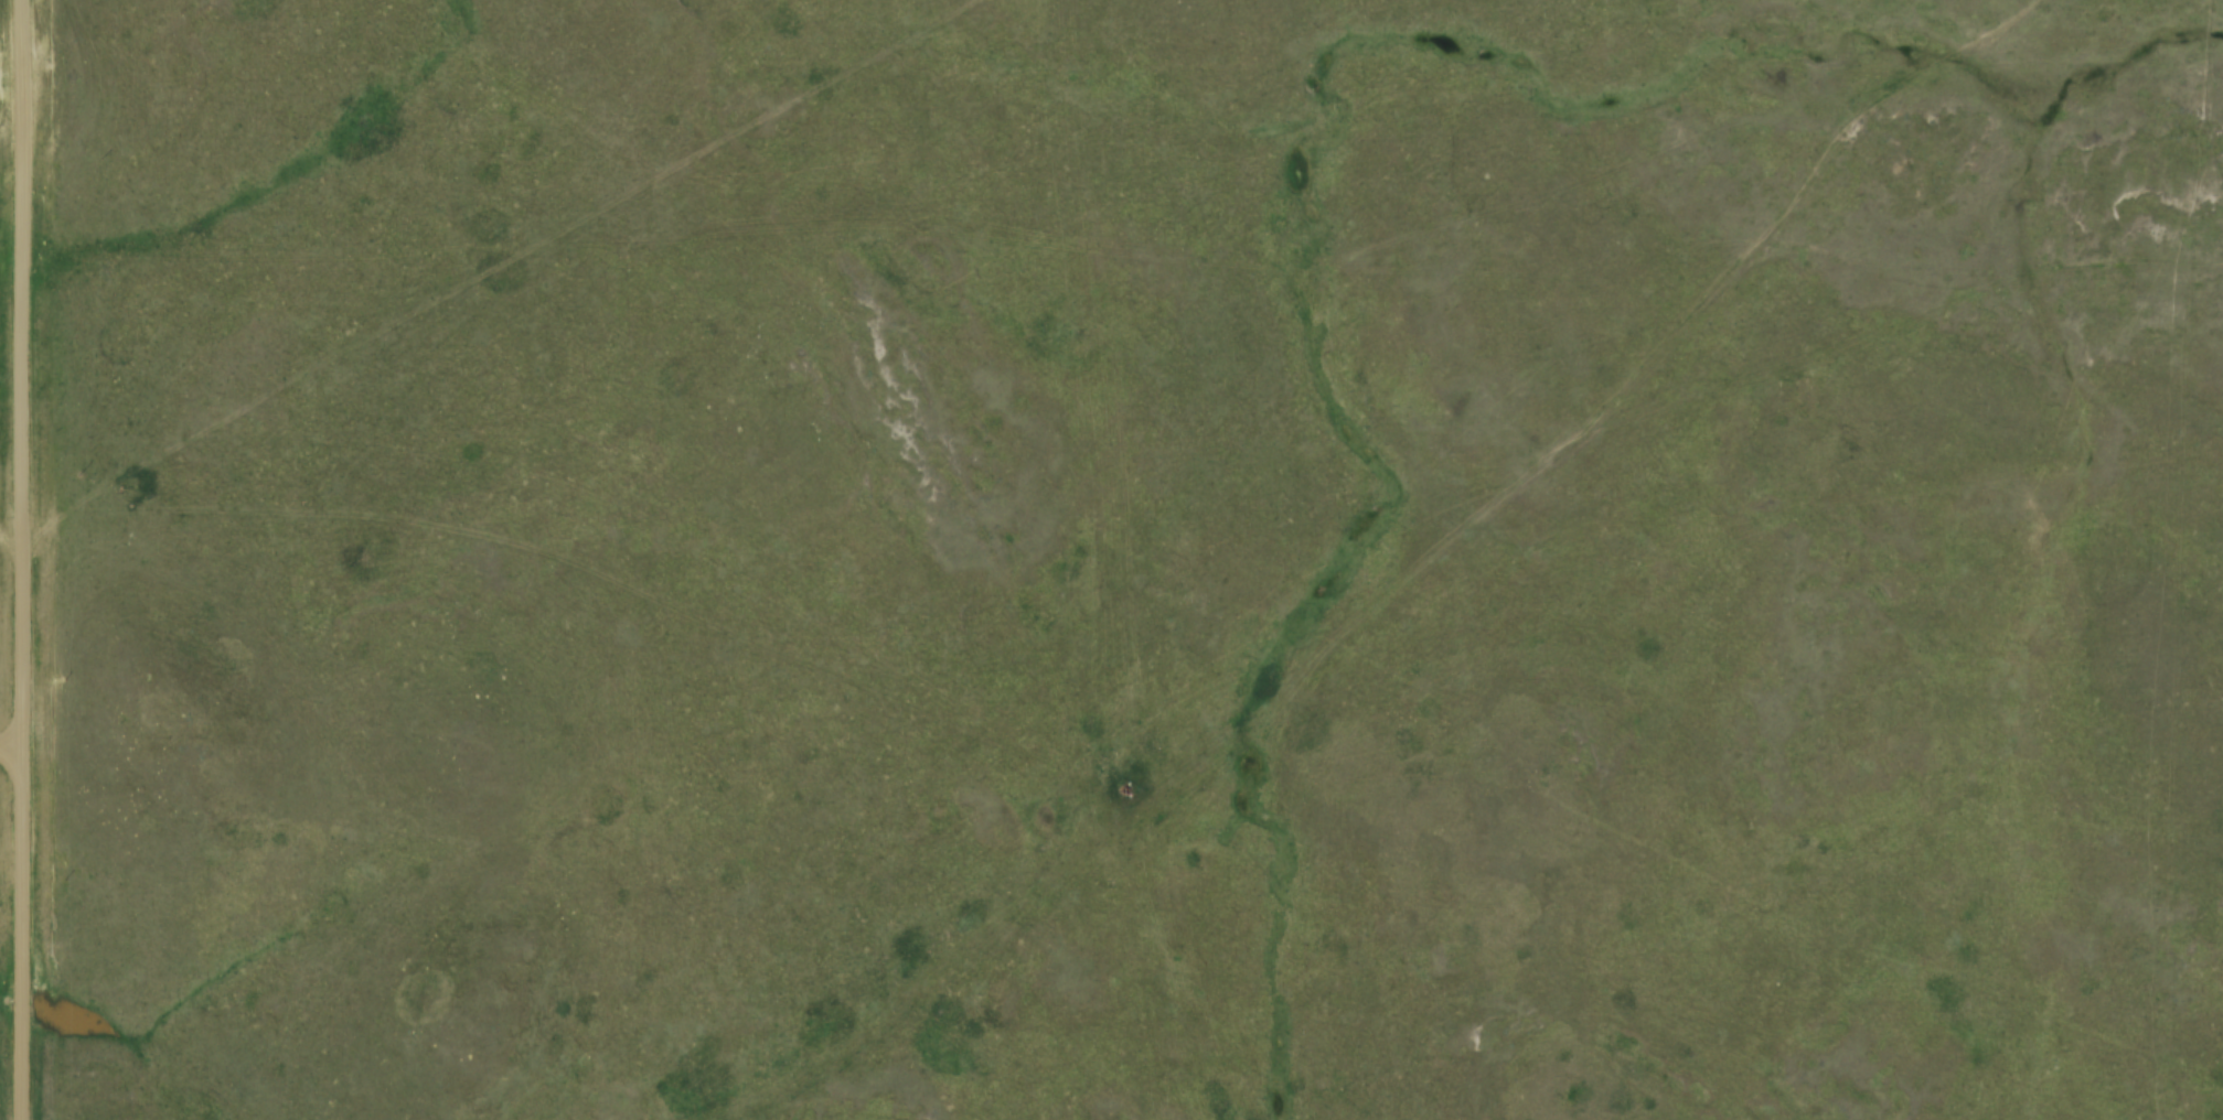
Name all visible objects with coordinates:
road: (26, 560)
road: (13, 743)

